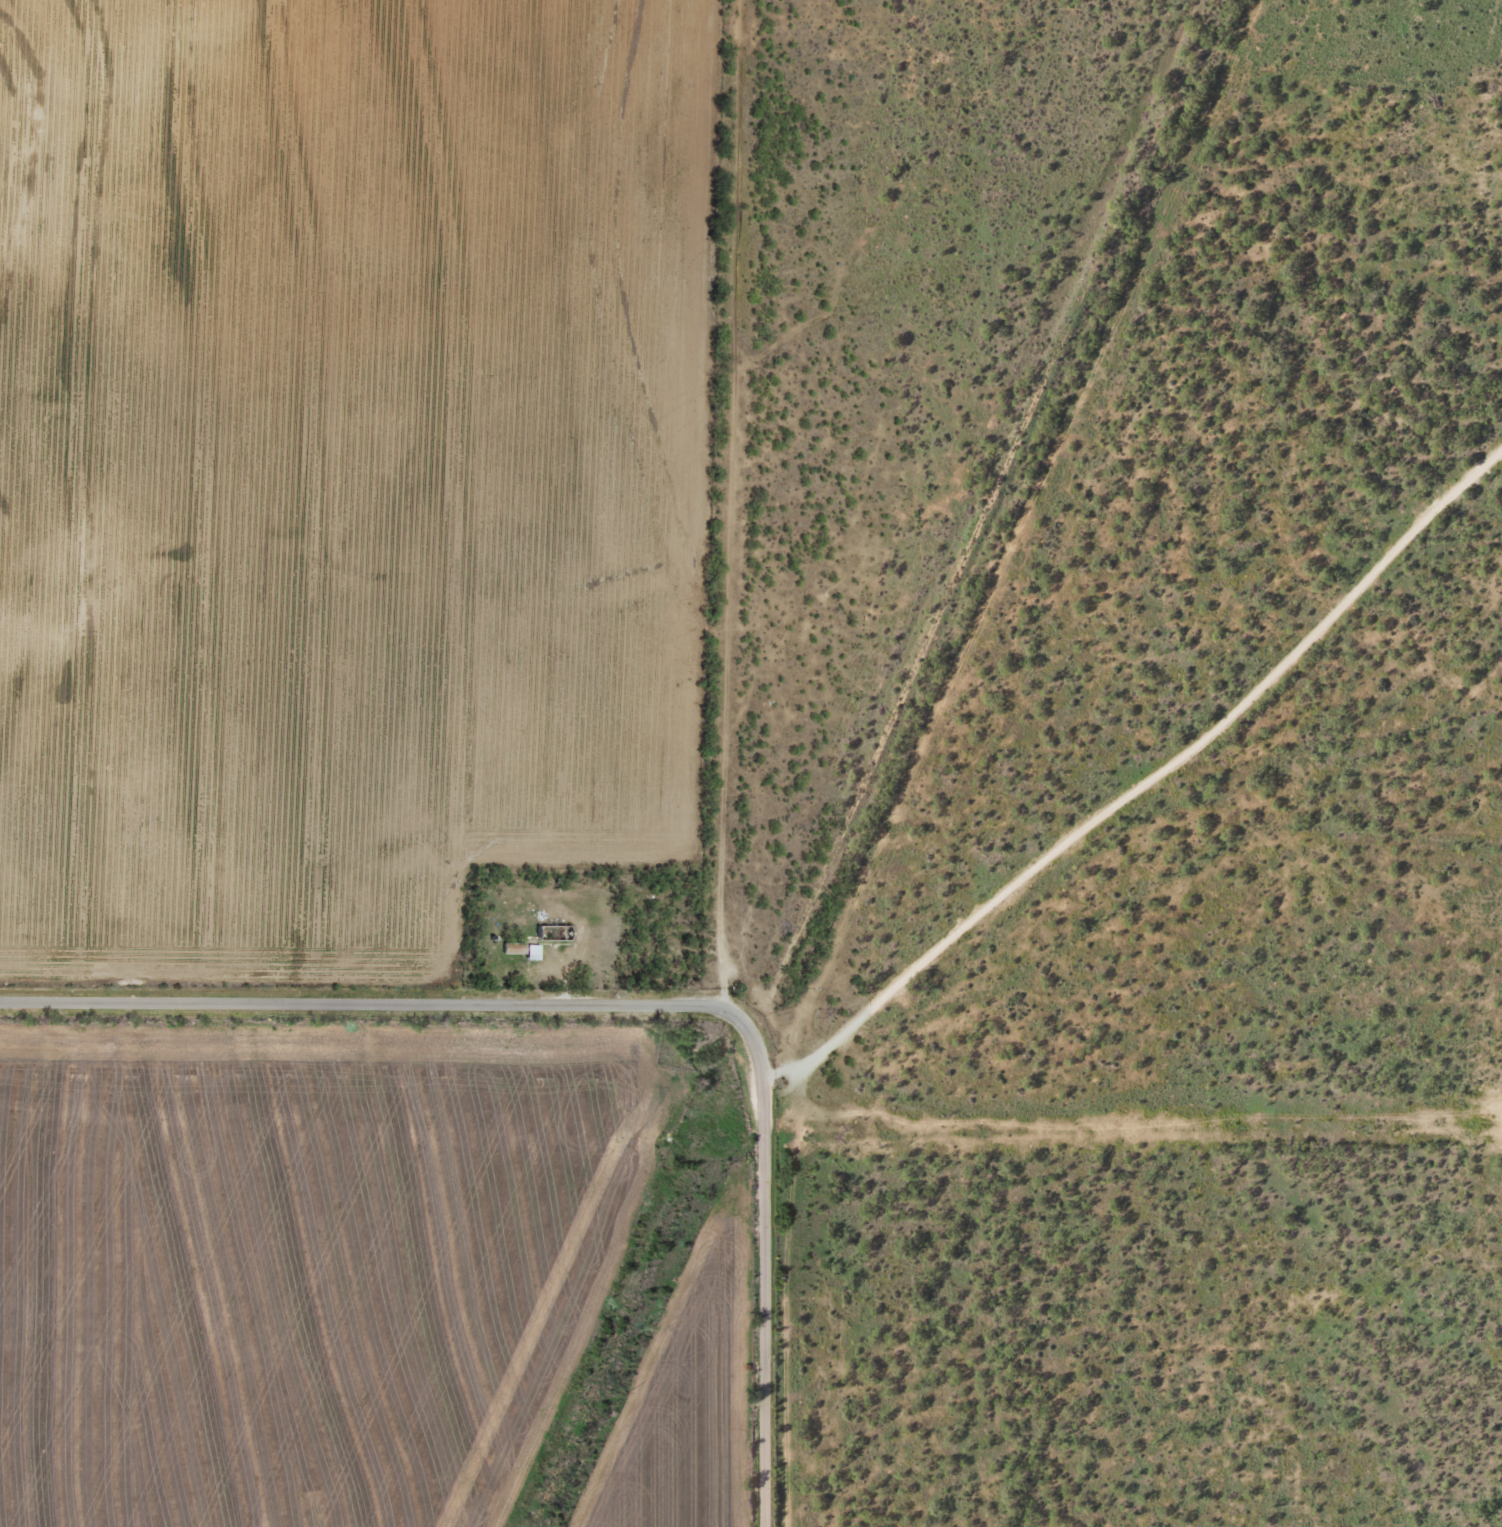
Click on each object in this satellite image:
road: (730, 486)
road: (373, 973)
road: (738, 1250)

